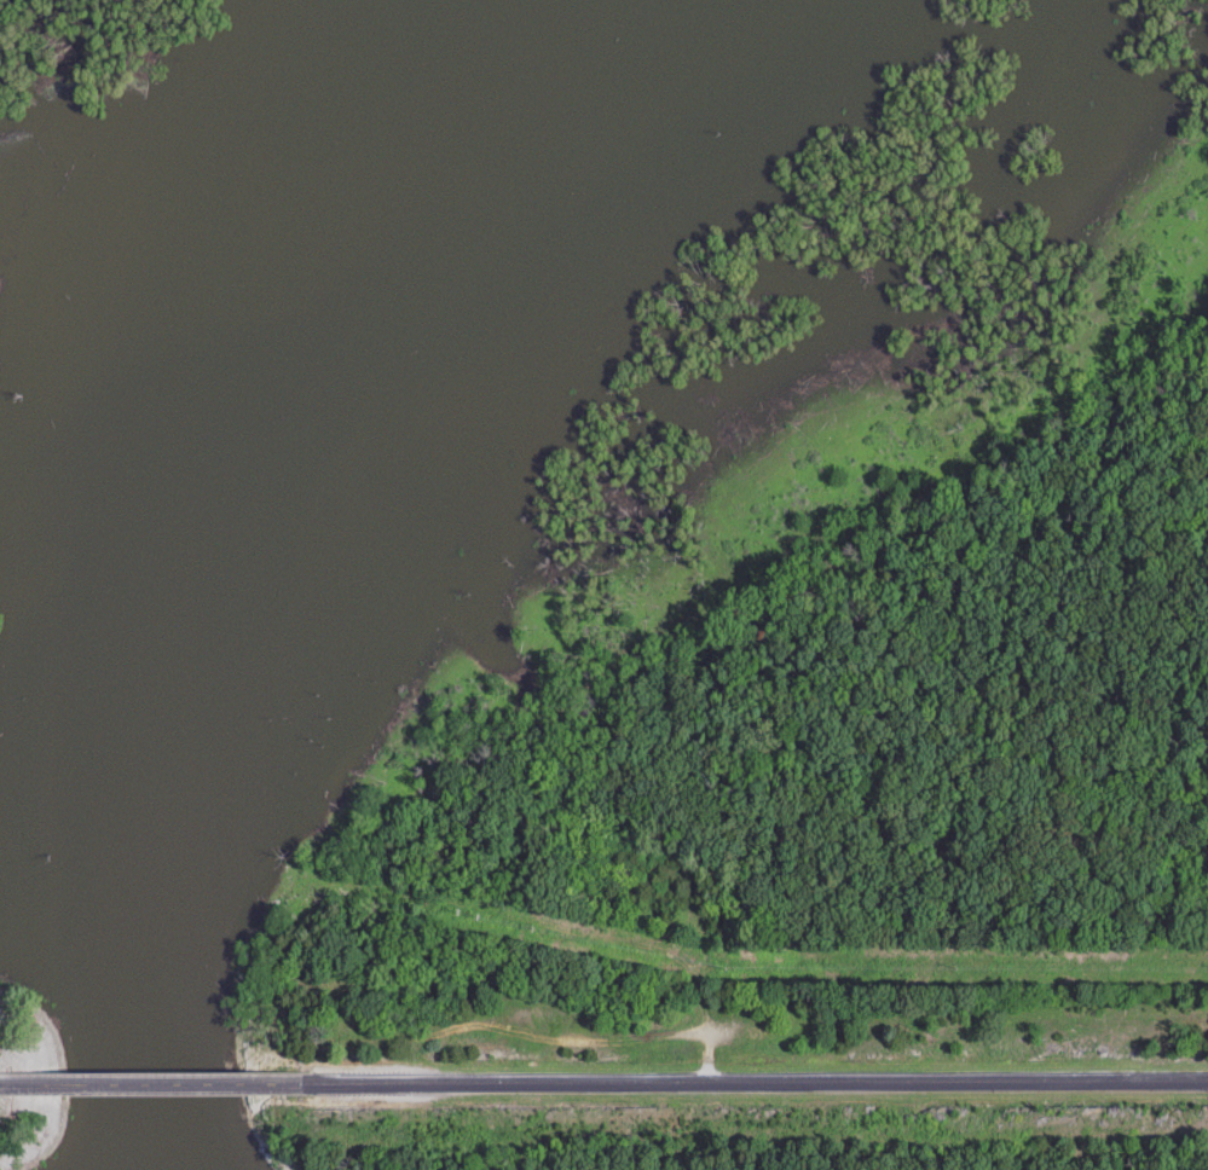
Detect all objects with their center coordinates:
road: (63, 1064)
road: (152, 1081)
road: (757, 1085)

